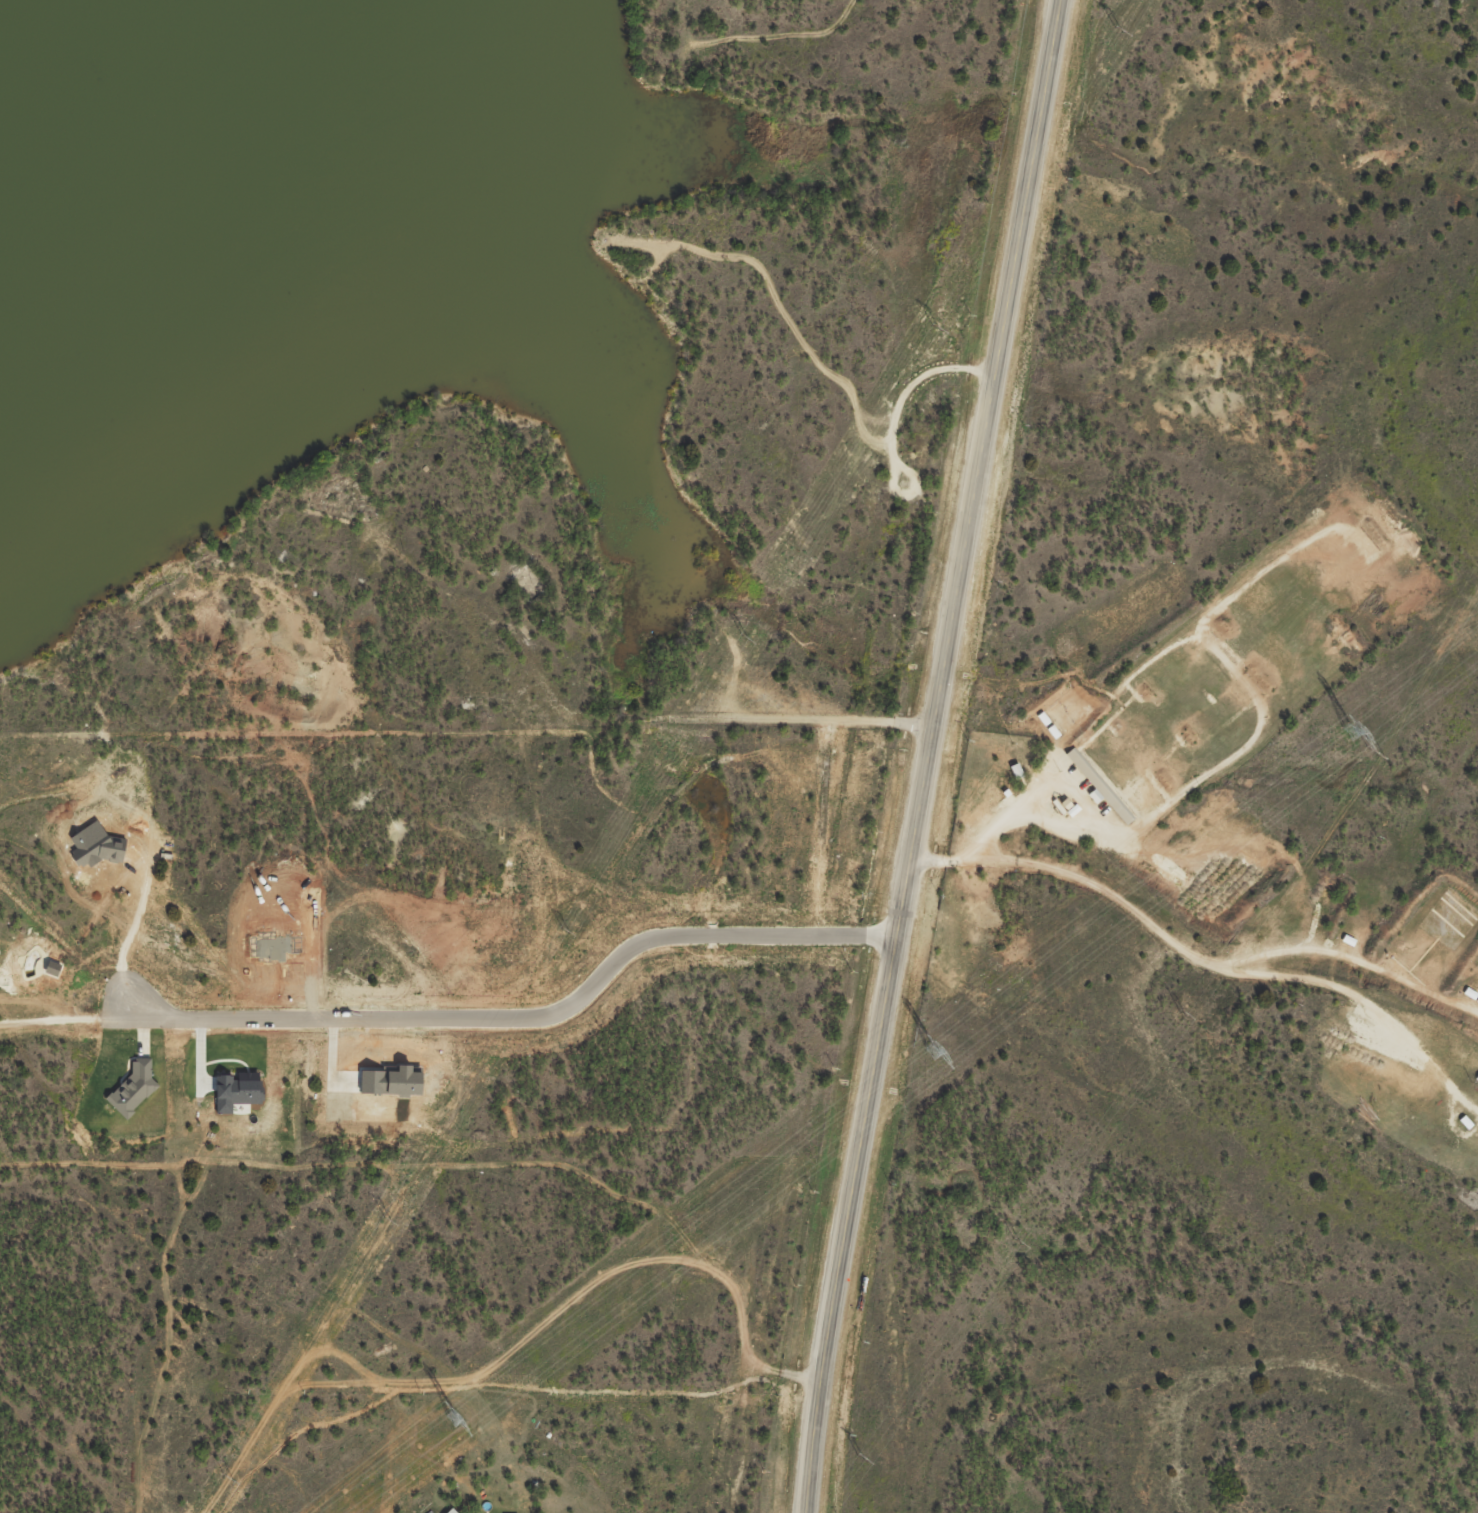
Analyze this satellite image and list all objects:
power tower: (1116, 29)
power tower: (933, 327)
power tower: (742, 637)
power tower: (1350, 731)
power tower: (1371, 753)
road: (925, 755)
road: (1043, 827)
building: (97, 855)
power tower: (562, 930)
power tower: (1181, 1014)
road: (521, 1020)
power tower: (931, 1051)
building: (410, 1089)
building: (134, 1097)
building: (236, 1099)
power tower: (386, 1220)
power tower: (1015, 1242)
power tower: (451, 1420)
power tower: (860, 1457)
power tower: (227, 1479)

